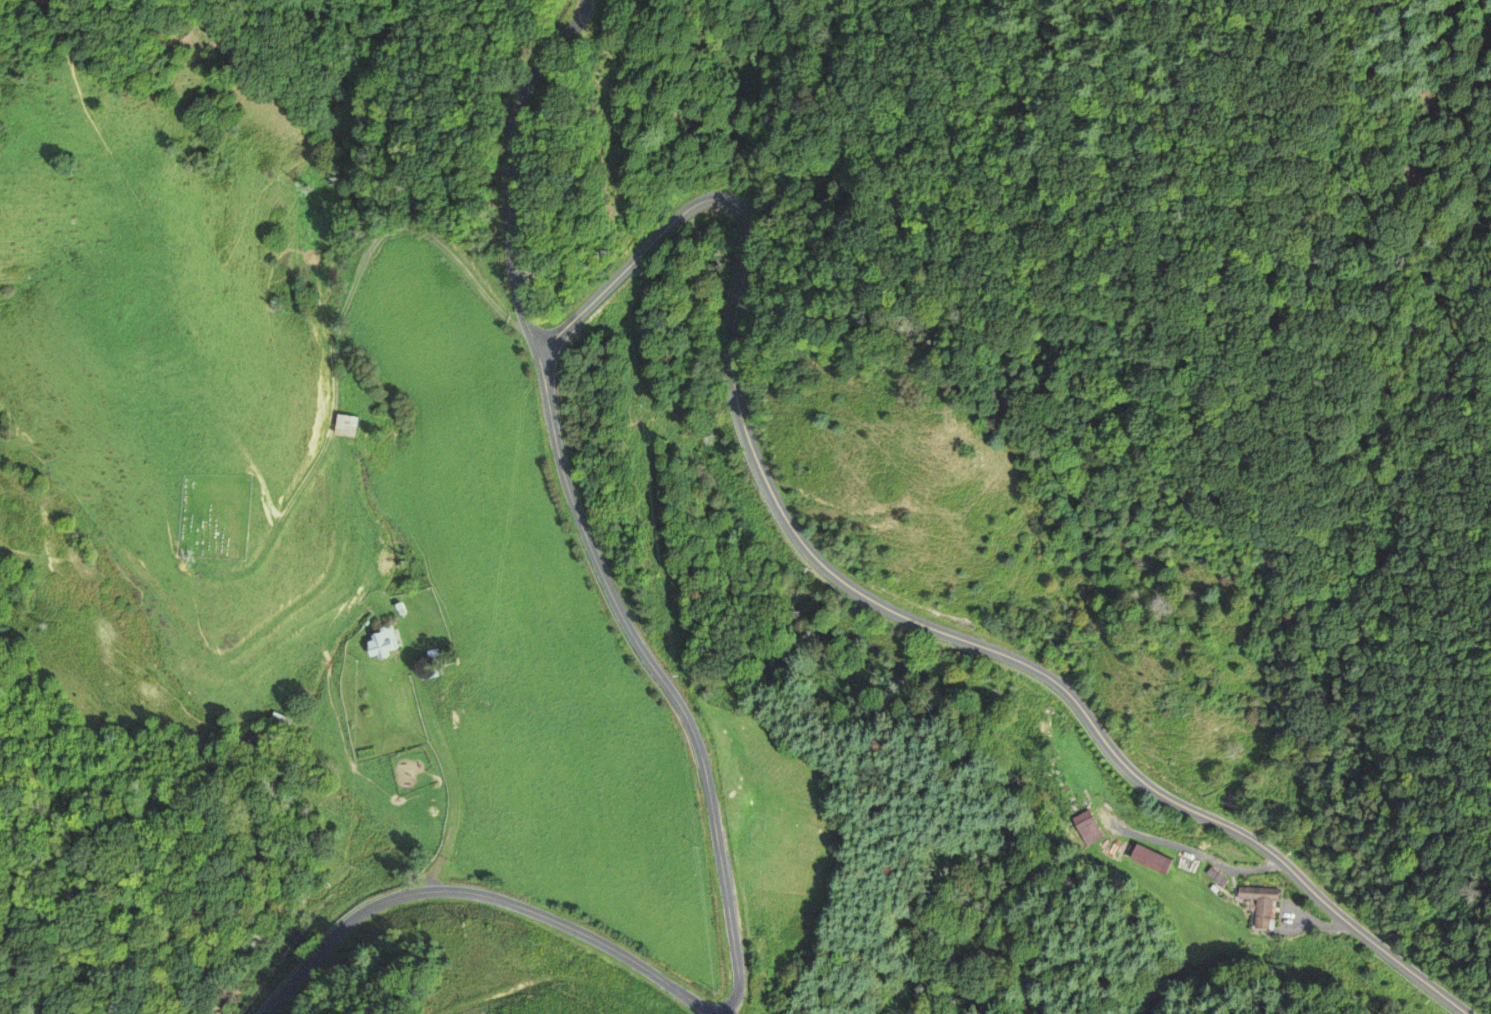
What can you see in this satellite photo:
building: (345, 426)
park: (215, 514)
road: (875, 604)
building: (378, 638)
building: (428, 672)
road: (699, 750)
road: (439, 782)
building: (1086, 826)
building: (1150, 857)
building: (1215, 875)
building: (1261, 903)

